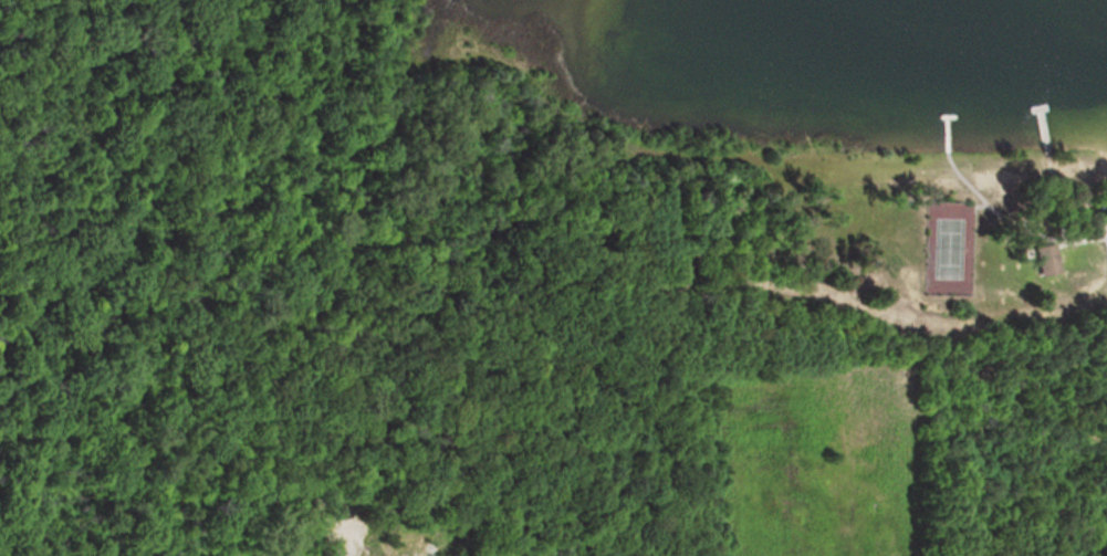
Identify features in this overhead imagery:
building: (1041, 261)

